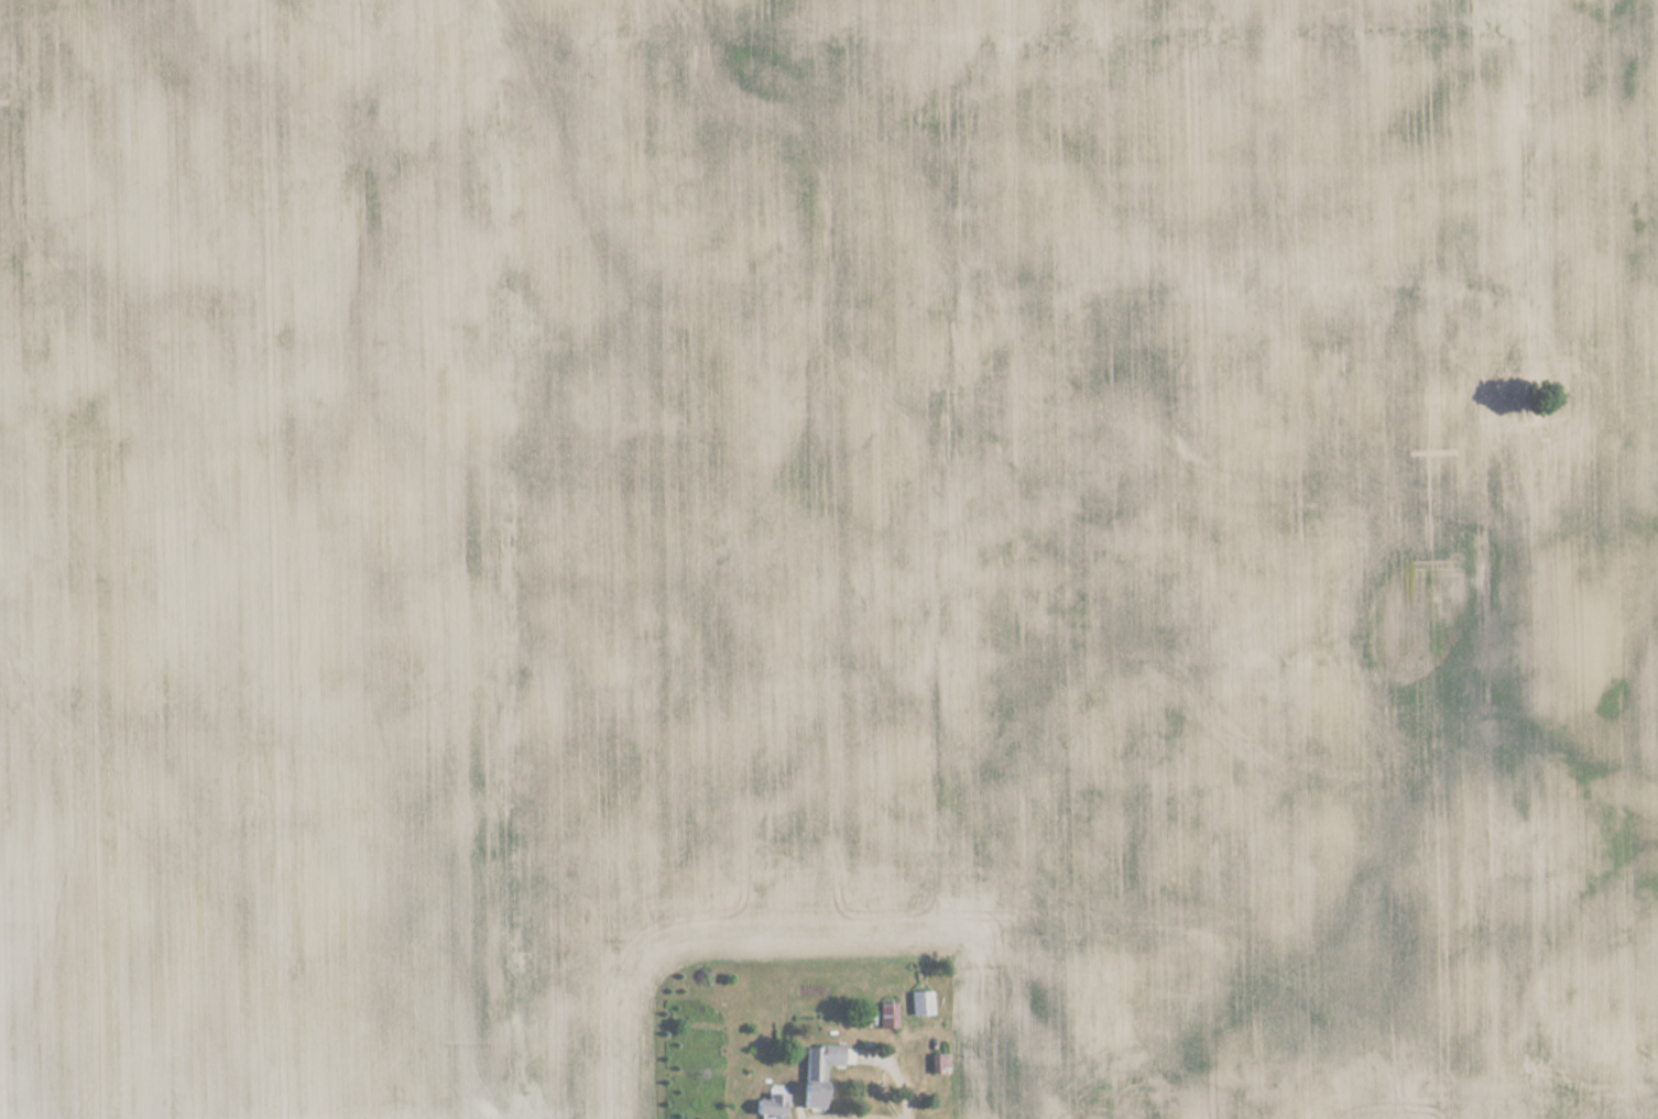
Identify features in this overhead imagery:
building: (919, 1002)
building: (886, 1016)
building: (937, 1063)
road: (890, 1069)
building: (817, 1072)
road: (879, 1090)
building: (771, 1106)

